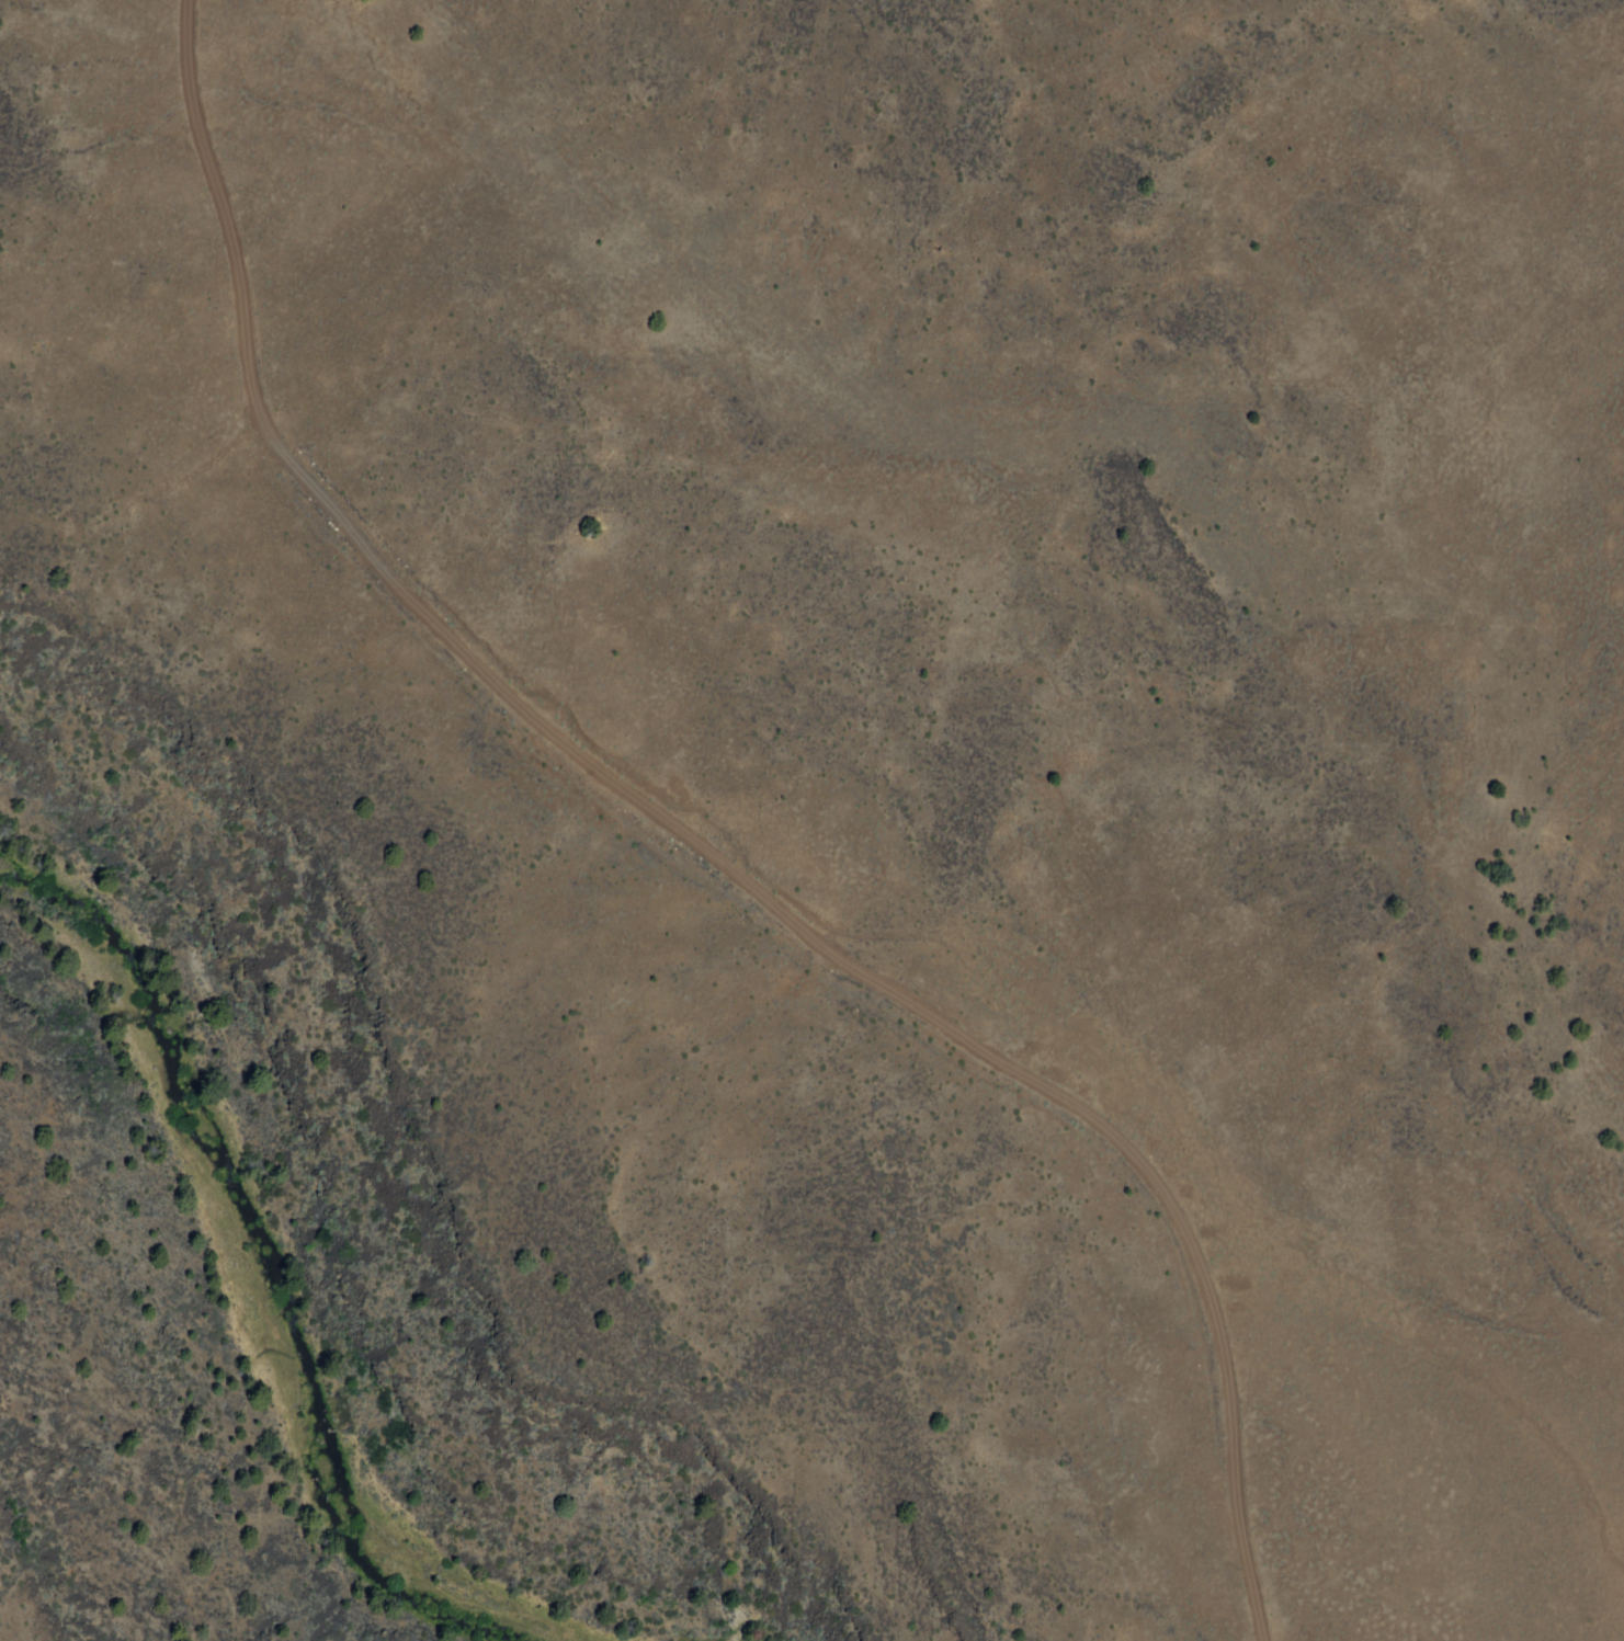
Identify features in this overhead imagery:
road: (708, 848)

